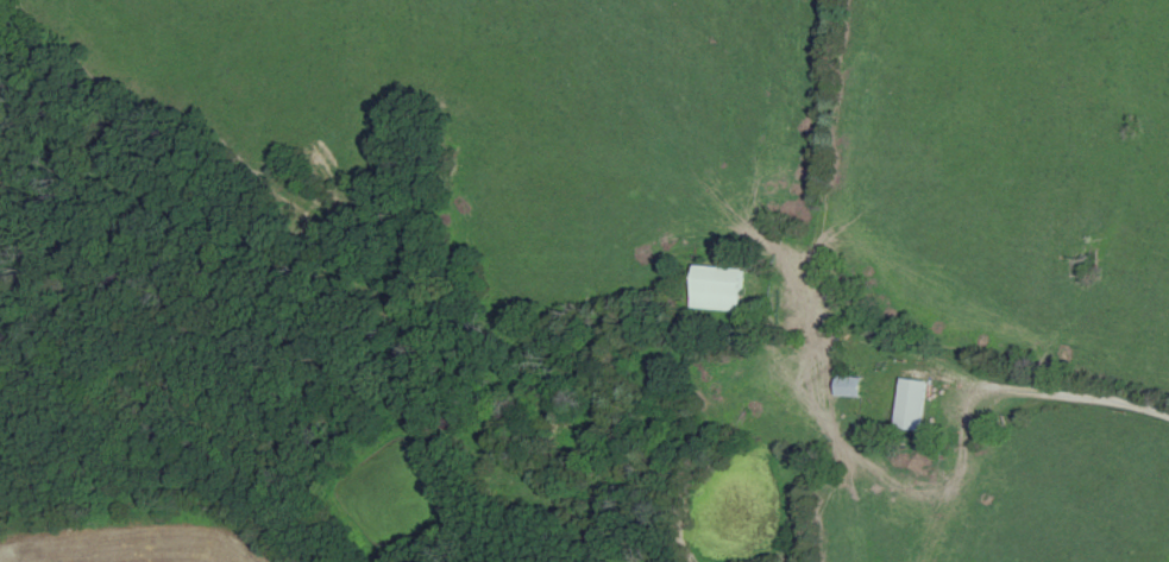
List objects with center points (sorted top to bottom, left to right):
building: (716, 289)
road: (930, 378)
building: (847, 386)
building: (911, 405)
building: (452, 422)

